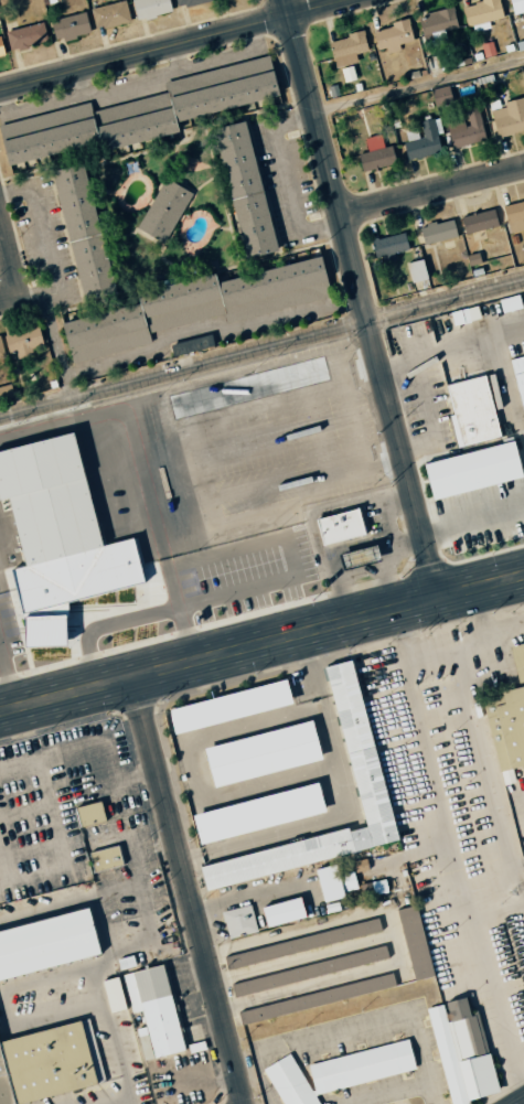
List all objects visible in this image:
building: (189, 2)
building: (516, 6)
building: (149, 8)
road: (287, 8)
road: (317, 8)
building: (481, 11)
building: (109, 14)
building: (436, 24)
building: (68, 26)
building: (25, 35)
building: (392, 35)
building: (346, 49)
building: (0, 51)
road: (145, 53)
building: (346, 74)
building: (222, 87)
building: (439, 96)
building: (509, 117)
building: (135, 120)
building: (464, 129)
building: (49, 133)
building: (421, 140)
building: (375, 154)
building: (237, 160)
road: (432, 192)
building: (76, 202)
building: (165, 210)
building: (513, 216)
building: (478, 221)
building: (254, 224)
building: (437, 232)
building: (388, 246)
road: (9, 260)
building: (93, 266)
building: (415, 270)
building: (274, 288)
building: (181, 302)
road: (365, 307)
building: (107, 332)
building: (22, 342)
road: (261, 347)
building: (1, 351)
building: (319, 369)
building: (518, 378)
building: (6, 393)
building: (470, 410)
building: (470, 471)
road: (473, 517)
building: (86, 523)
building: (340, 526)
building: (359, 556)
road: (482, 589)
road: (221, 656)
road: (7, 680)
building: (227, 706)
building: (509, 722)
building: (356, 746)
building: (259, 753)
building: (256, 813)
building: (88, 814)
building: (105, 858)
building: (347, 881)
building: (327, 882)
road: (191, 891)
building: (280, 912)
building: (237, 921)
road: (391, 937)
building: (414, 942)
building: (45, 943)
building: (301, 943)
building: (111, 995)
building: (316, 998)
building: (151, 1011)
building: (459, 1051)
building: (43, 1064)
building: (338, 1071)

